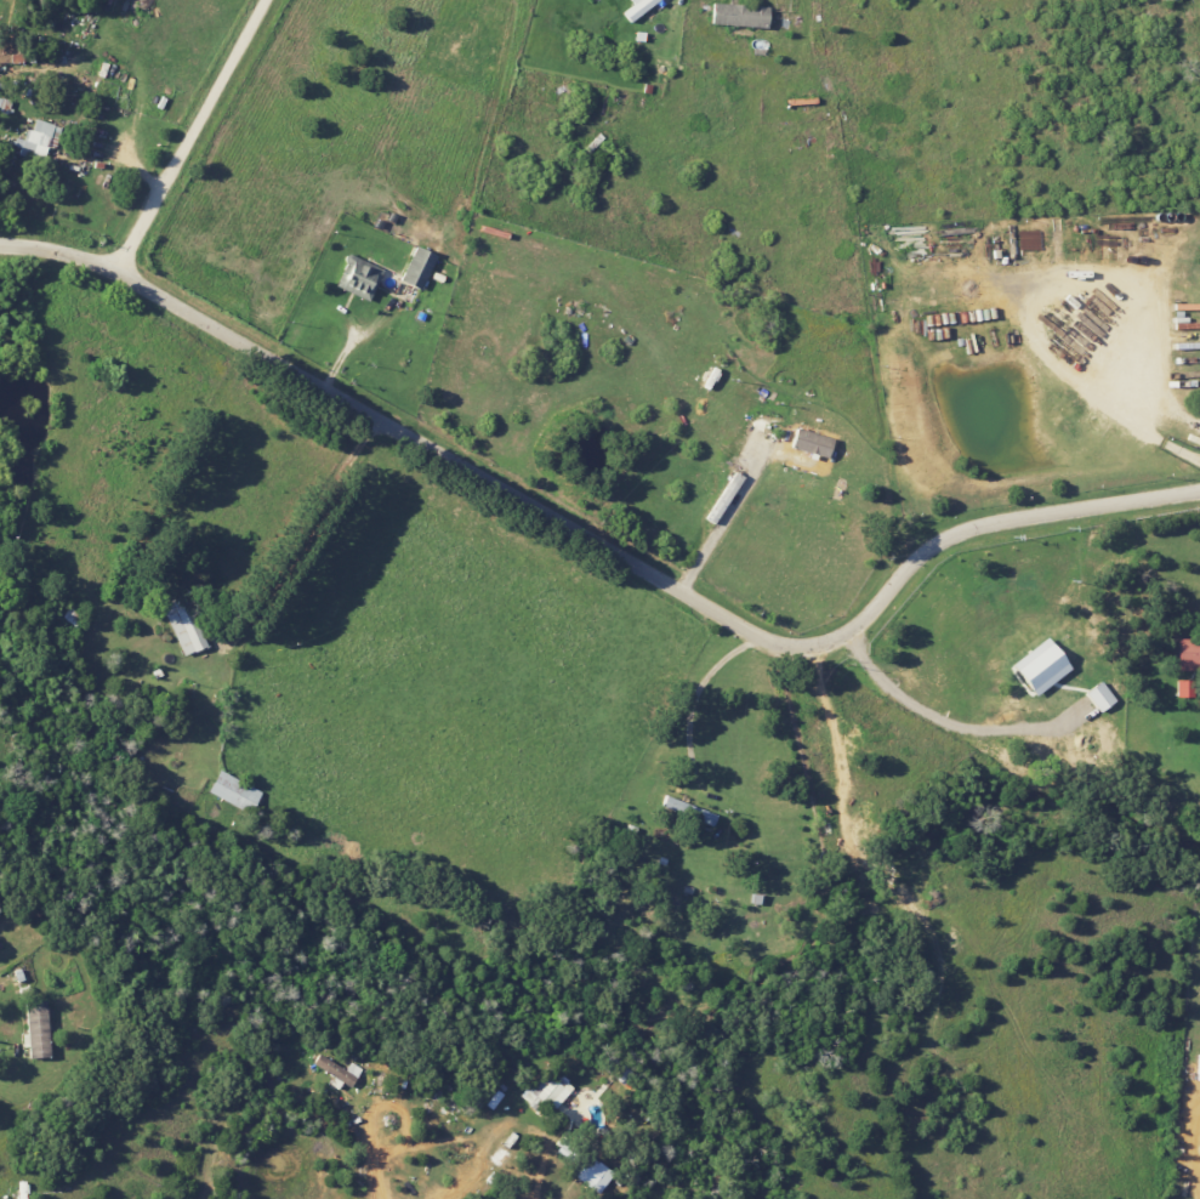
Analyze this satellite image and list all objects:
building: (637, 8)
building: (738, 15)
road: (192, 137)
building: (38, 140)
building: (416, 268)
building: (358, 278)
building: (811, 443)
road: (724, 518)
road: (303, 529)
road: (598, 542)
building: (182, 625)
building: (1187, 654)
building: (1037, 667)
building: (1184, 688)
building: (1099, 697)
road: (693, 698)
road: (951, 723)
building: (233, 791)
building: (687, 812)
building: (35, 1029)
building: (337, 1069)
road: (375, 1150)
building: (588, 1166)
road: (461, 1180)

